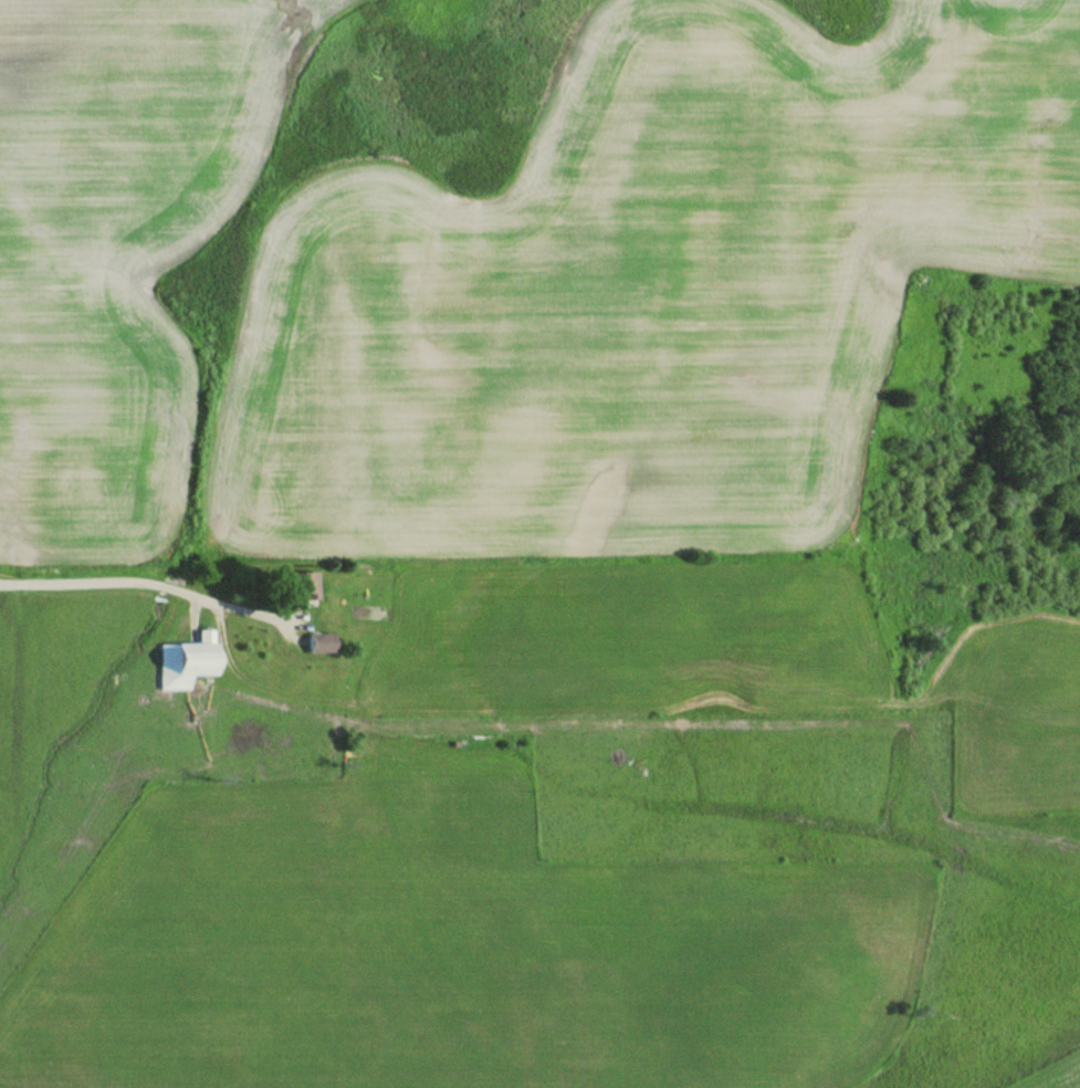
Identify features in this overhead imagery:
building: (305, 585)
building: (326, 642)
building: (191, 661)

